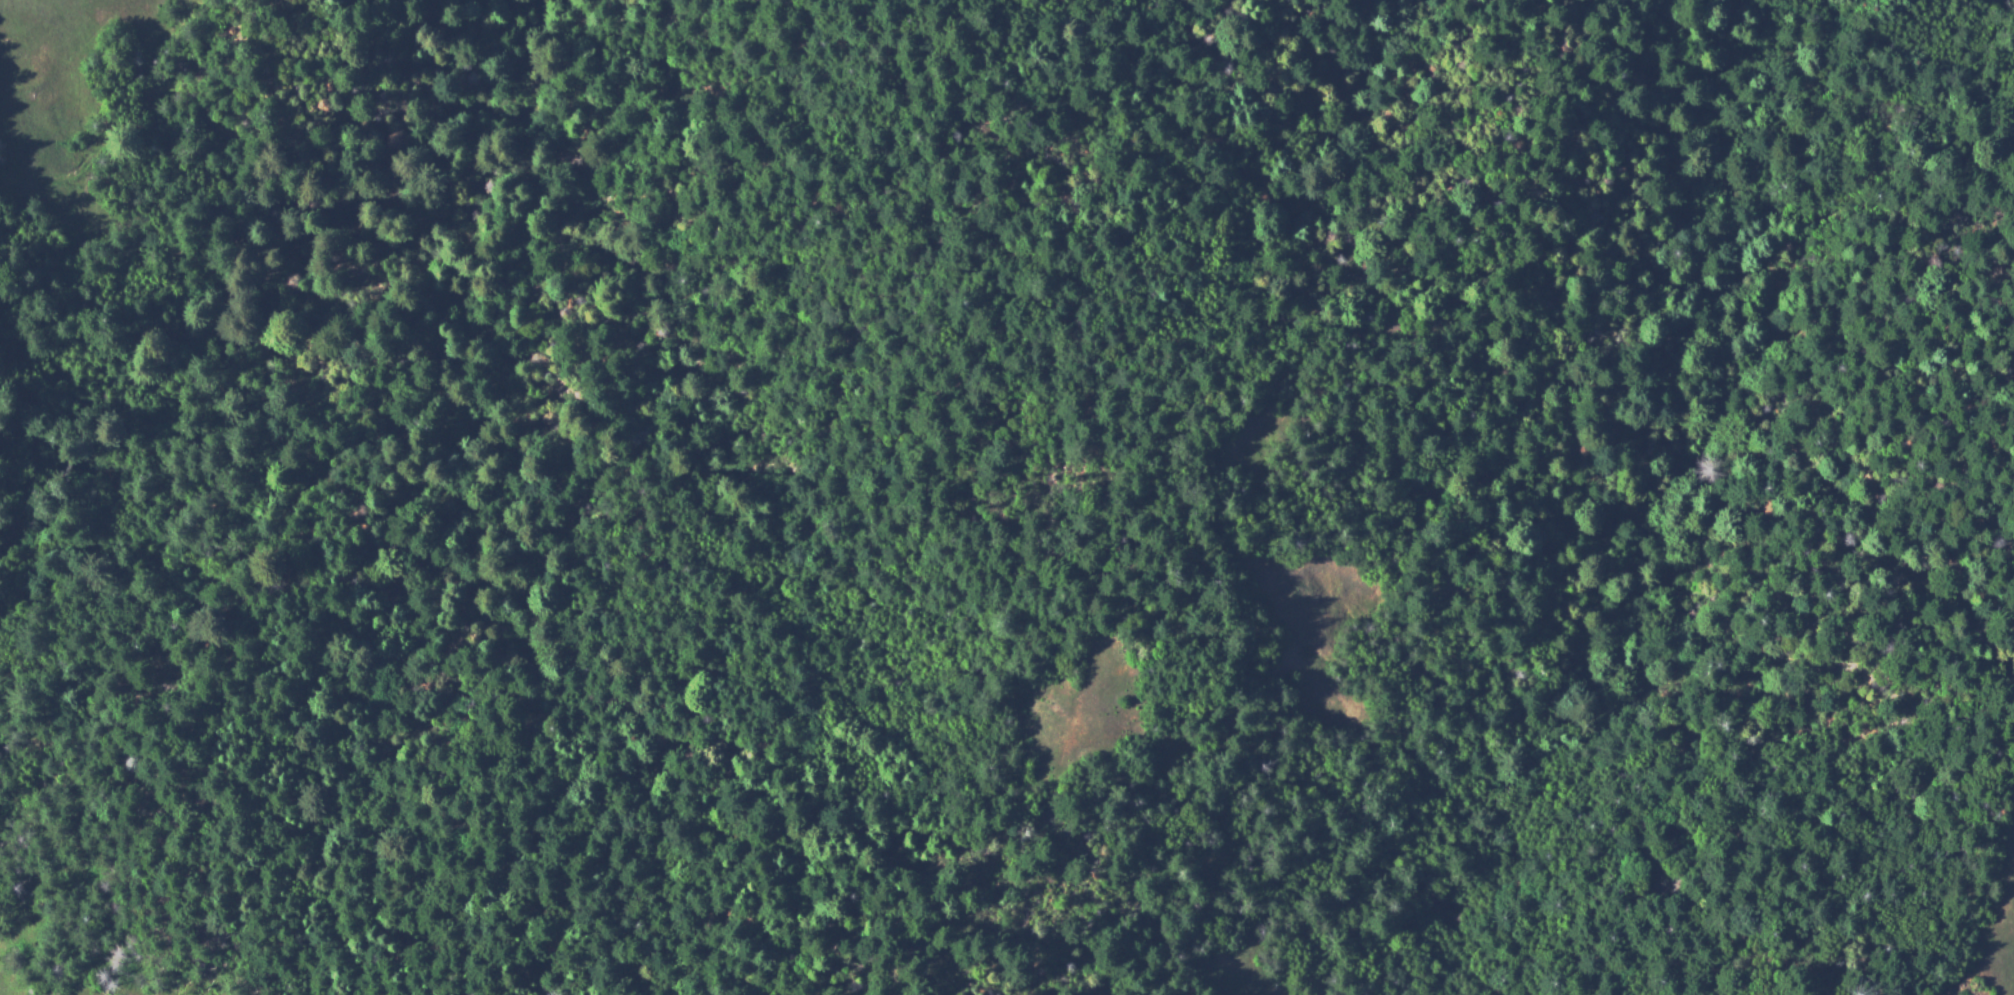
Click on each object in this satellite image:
road: (1967, 945)

